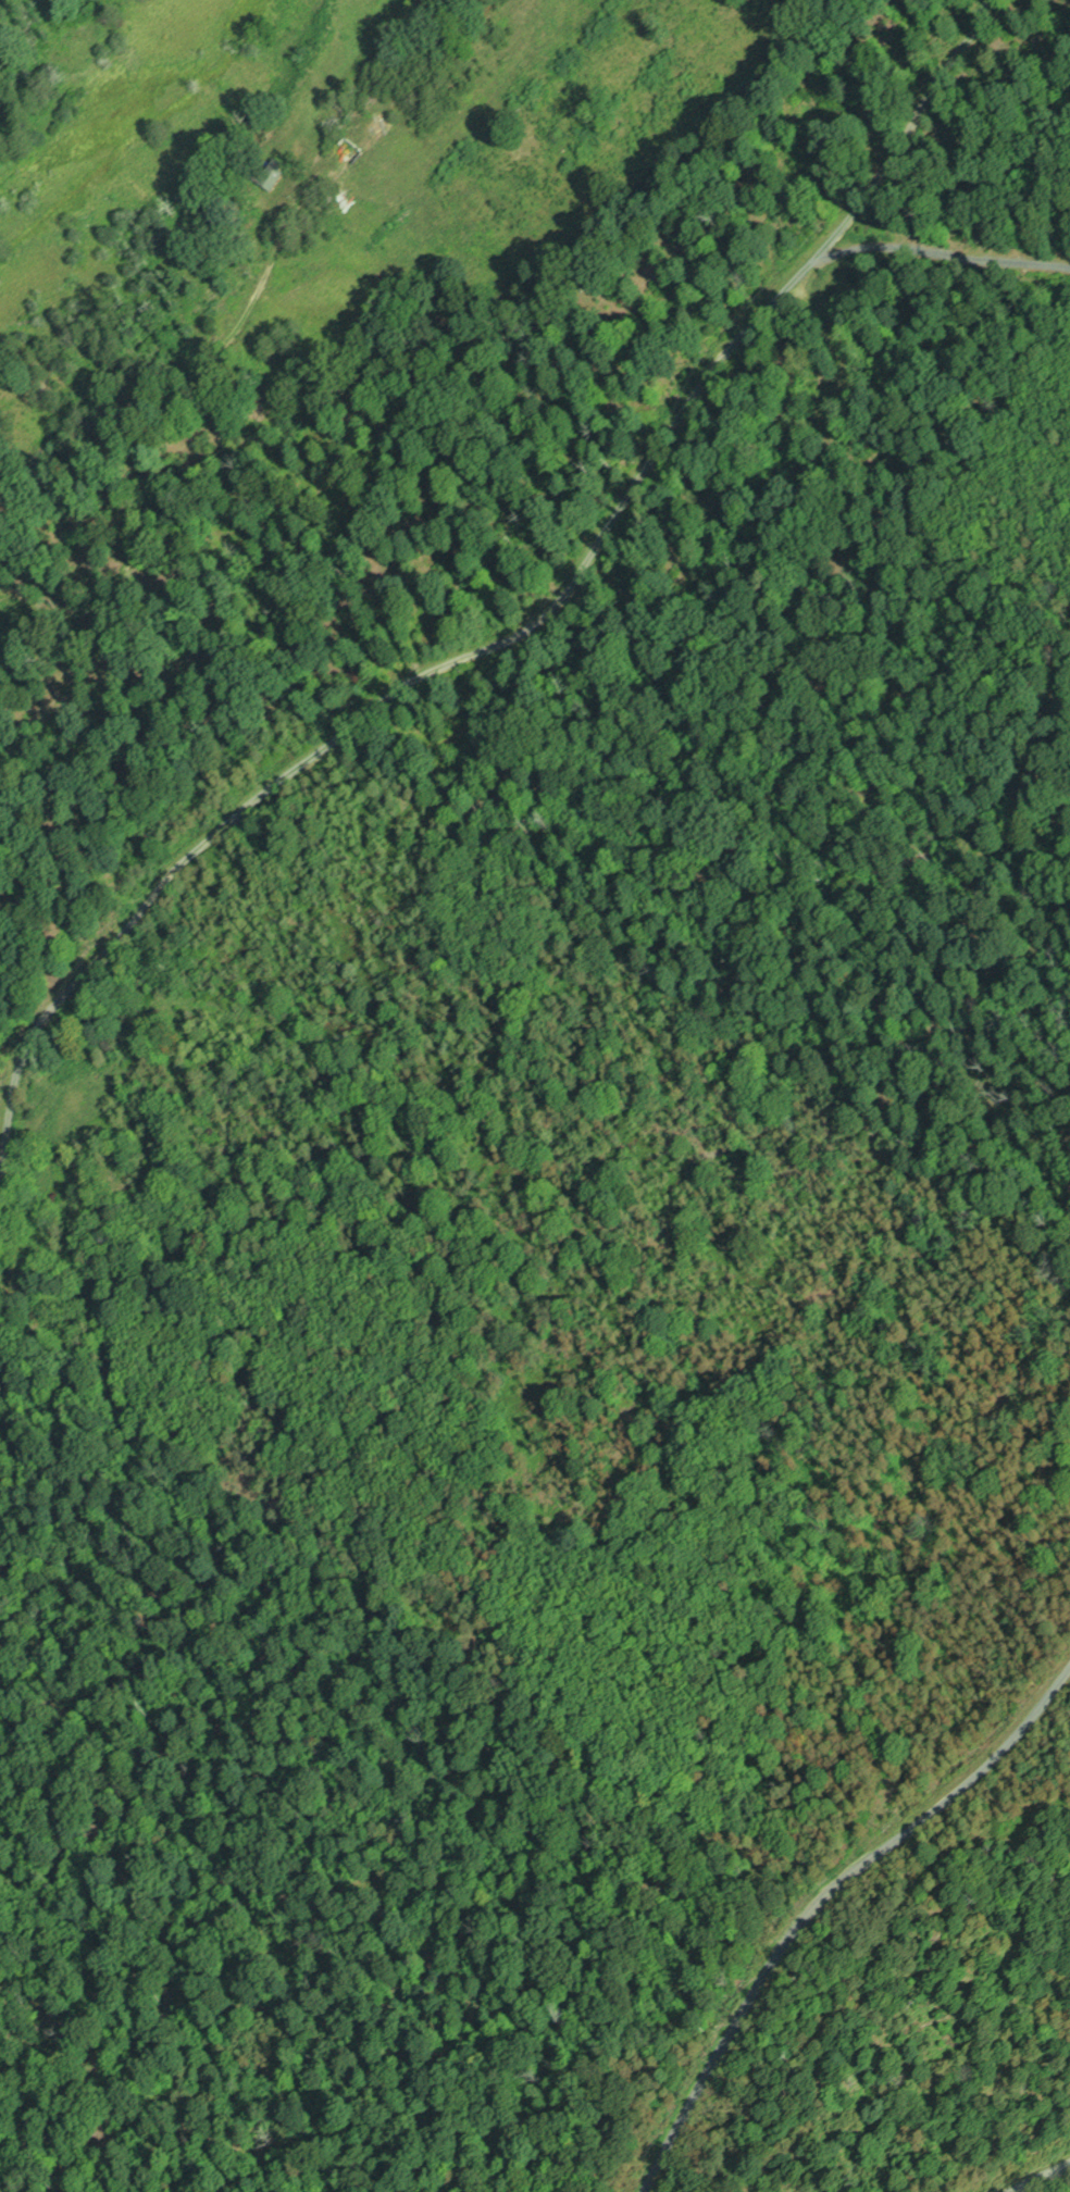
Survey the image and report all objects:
road: (944, 249)
road: (517, 635)
road: (817, 1894)
road: (1020, 2157)

